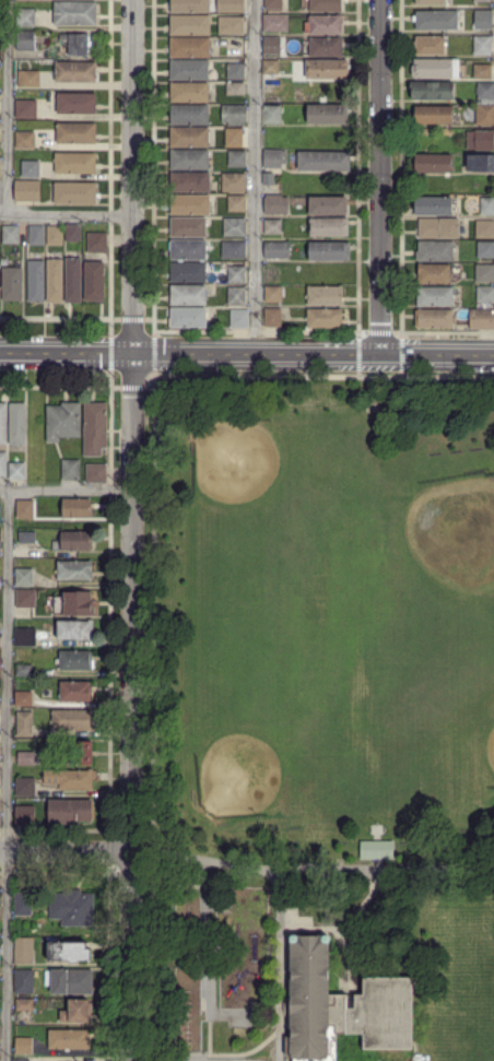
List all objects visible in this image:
building: (482, 0)
building: (431, 2)
building: (274, 4)
building: (190, 5)
building: (230, 5)
building: (326, 5)
building: (74, 13)
building: (24, 17)
building: (483, 19)
building: (437, 20)
building: (275, 22)
building: (190, 24)
building: (325, 24)
building: (232, 25)
building: (25, 40)
building: (74, 43)
building: (274, 45)
building: (431, 45)
building: (482, 45)
building: (324, 46)
building: (190, 48)
building: (270, 67)
building: (436, 67)
building: (326, 69)
building: (189, 70)
building: (73, 71)
building: (236, 71)
building: (483, 71)
building: (27, 78)
building: (236, 89)
building: (433, 90)
building: (485, 90)
building: (189, 92)
building: (74, 103)
road: (7, 107)
building: (25, 108)
building: (234, 114)
building: (272, 114)
building: (434, 114)
building: (190, 115)
building: (328, 115)
building: (485, 115)
building: (74, 132)
building: (236, 137)
building: (189, 138)
building: (23, 139)
building: (484, 140)
building: (274, 157)
building: (237, 158)
building: (190, 160)
building: (324, 160)
building: (0, 161)
building: (73, 163)
building: (433, 163)
building: (481, 163)
building: (28, 168)
road: (131, 175)
road: (255, 176)
road: (379, 177)
building: (233, 181)
building: (190, 182)
building: (23, 192)
building: (73, 192)
building: (237, 203)
building: (277, 203)
building: (190, 204)
building: (486, 204)
building: (327, 205)
building: (434, 205)
road: (66, 215)
building: (188, 226)
building: (235, 226)
building: (271, 226)
building: (329, 226)
building: (438, 227)
building: (485, 228)
building: (35, 233)
building: (71, 233)
building: (9, 234)
building: (52, 235)
building: (94, 241)
building: (233, 249)
building: (273, 249)
building: (485, 249)
building: (188, 250)
building: (435, 250)
building: (329, 251)
building: (188, 272)
building: (436, 272)
building: (484, 272)
building: (236, 274)
building: (54, 280)
building: (72, 280)
building: (34, 281)
building: (92, 281)
building: (11, 283)
building: (274, 291)
building: (485, 293)
building: (188, 295)
building: (237, 295)
building: (326, 295)
building: (434, 295)
building: (188, 317)
building: (272, 317)
building: (239, 318)
building: (325, 318)
building: (436, 318)
building: (482, 318)
road: (66, 351)
road: (313, 353)
road: (324, 377)
building: (61, 421)
building: (16, 423)
building: (2, 425)
building: (93, 428)
building: (33, 444)
park: (234, 459)
building: (2, 463)
building: (69, 469)
building: (15, 470)
building: (93, 472)
road: (66, 487)
building: (74, 508)
building: (23, 509)
park: (455, 531)
building: (24, 537)
building: (74, 540)
building: (73, 570)
building: (23, 577)
building: (26, 598)
building: (78, 603)
building: (73, 628)
building: (23, 636)
building: (72, 659)
building: (22, 670)
building: (72, 689)
building: (23, 698)
road: (130, 706)
park: (318, 717)
road: (151, 718)
building: (70, 719)
building: (22, 722)
park: (489, 748)
building: (78, 754)
building: (25, 758)
road: (5, 774)
park: (237, 774)
building: (68, 779)
building: (24, 787)
building: (69, 811)
building: (23, 814)
building: (376, 849)
road: (64, 851)
road: (310, 865)
building: (23, 904)
building: (70, 907)
park: (492, 929)
building: (23, 950)
building: (69, 952)
road: (279, 965)
building: (68, 980)
building: (22, 981)
building: (24, 1004)
building: (340, 1006)
building: (81, 1010)
building: (63, 1016)
building: (69, 1038)
building: (23, 1047)
building: (21, 1060)

